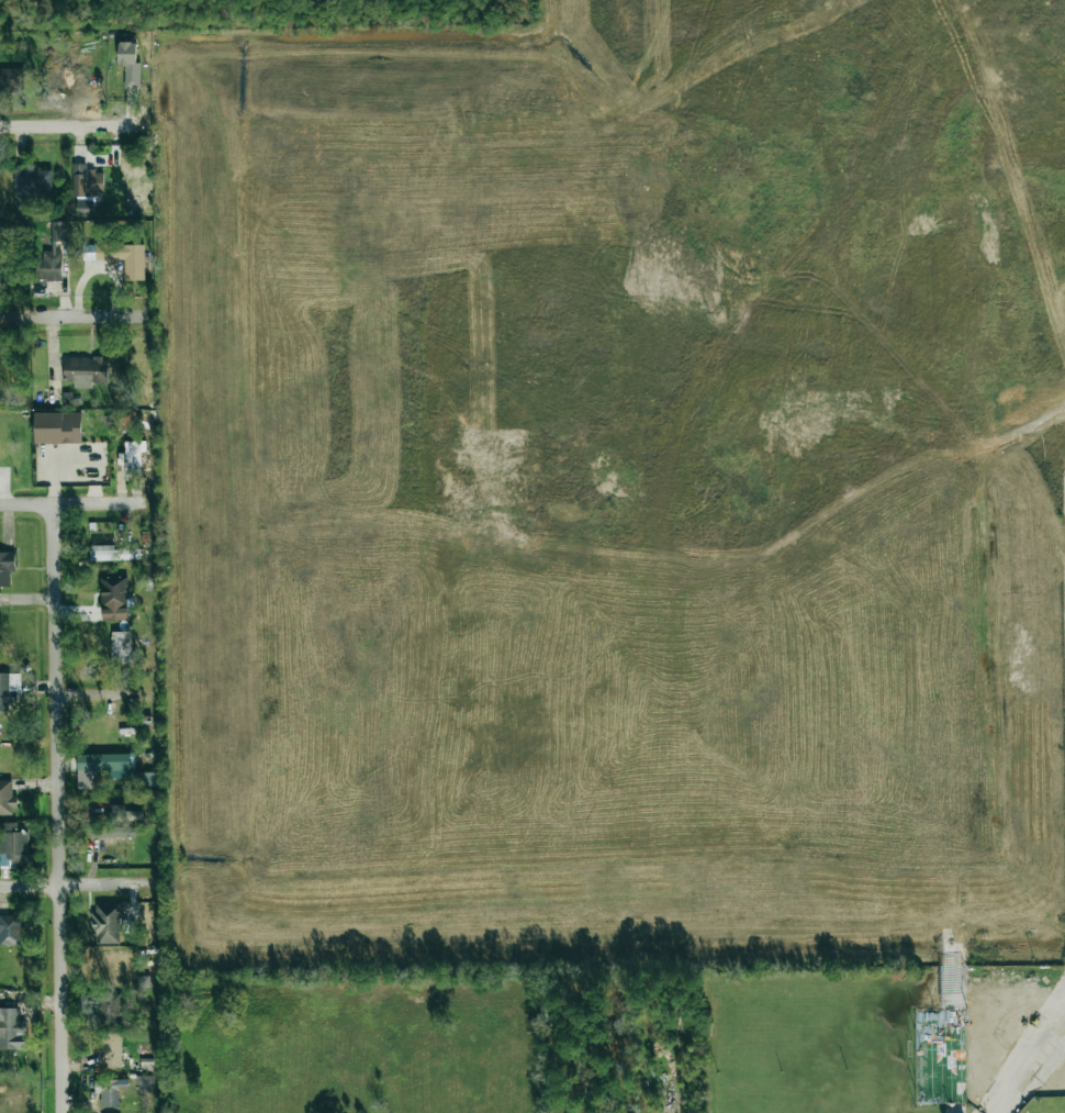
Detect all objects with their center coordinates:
building: (128, 64)
building: (10, 79)
road: (70, 125)
building: (86, 181)
building: (29, 186)
building: (53, 255)
building: (124, 257)
road: (69, 315)
building: (85, 370)
building: (57, 427)
landfill: (614, 489)
road: (78, 503)
building: (109, 554)
building: (7, 567)
building: (113, 599)
building: (120, 647)
building: (8, 690)
road: (102, 697)
building: (101, 768)
building: (146, 779)
building: (7, 799)
road: (52, 808)
building: (121, 814)
building: (112, 832)
building: (12, 845)
road: (78, 883)
building: (107, 923)
building: (10, 931)
building: (109, 1008)
building: (11, 1029)
road: (954, 1039)
building: (110, 1048)
road: (1025, 1053)
building: (146, 1084)
building: (108, 1091)

